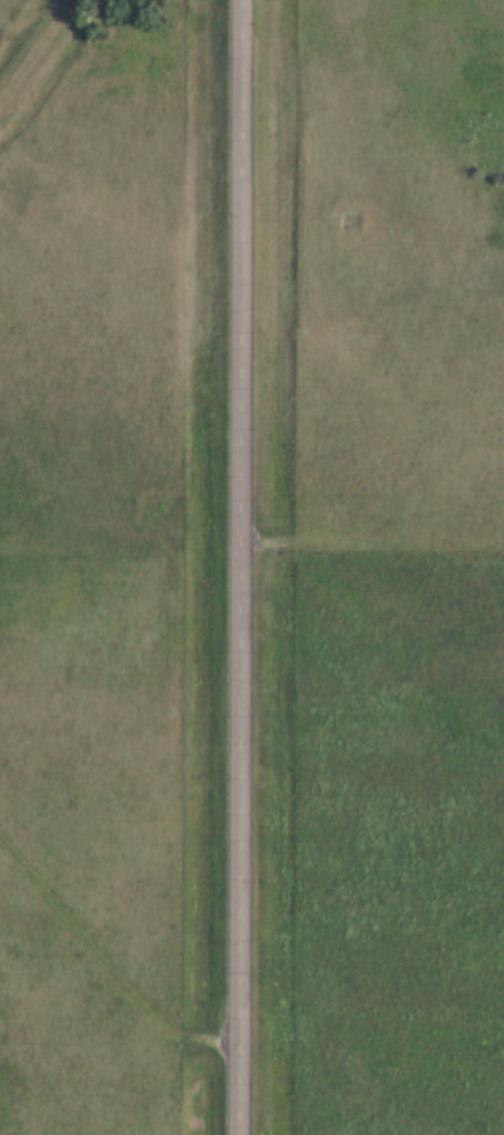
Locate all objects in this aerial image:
road: (372, 540)
road: (240, 566)
road: (105, 955)

